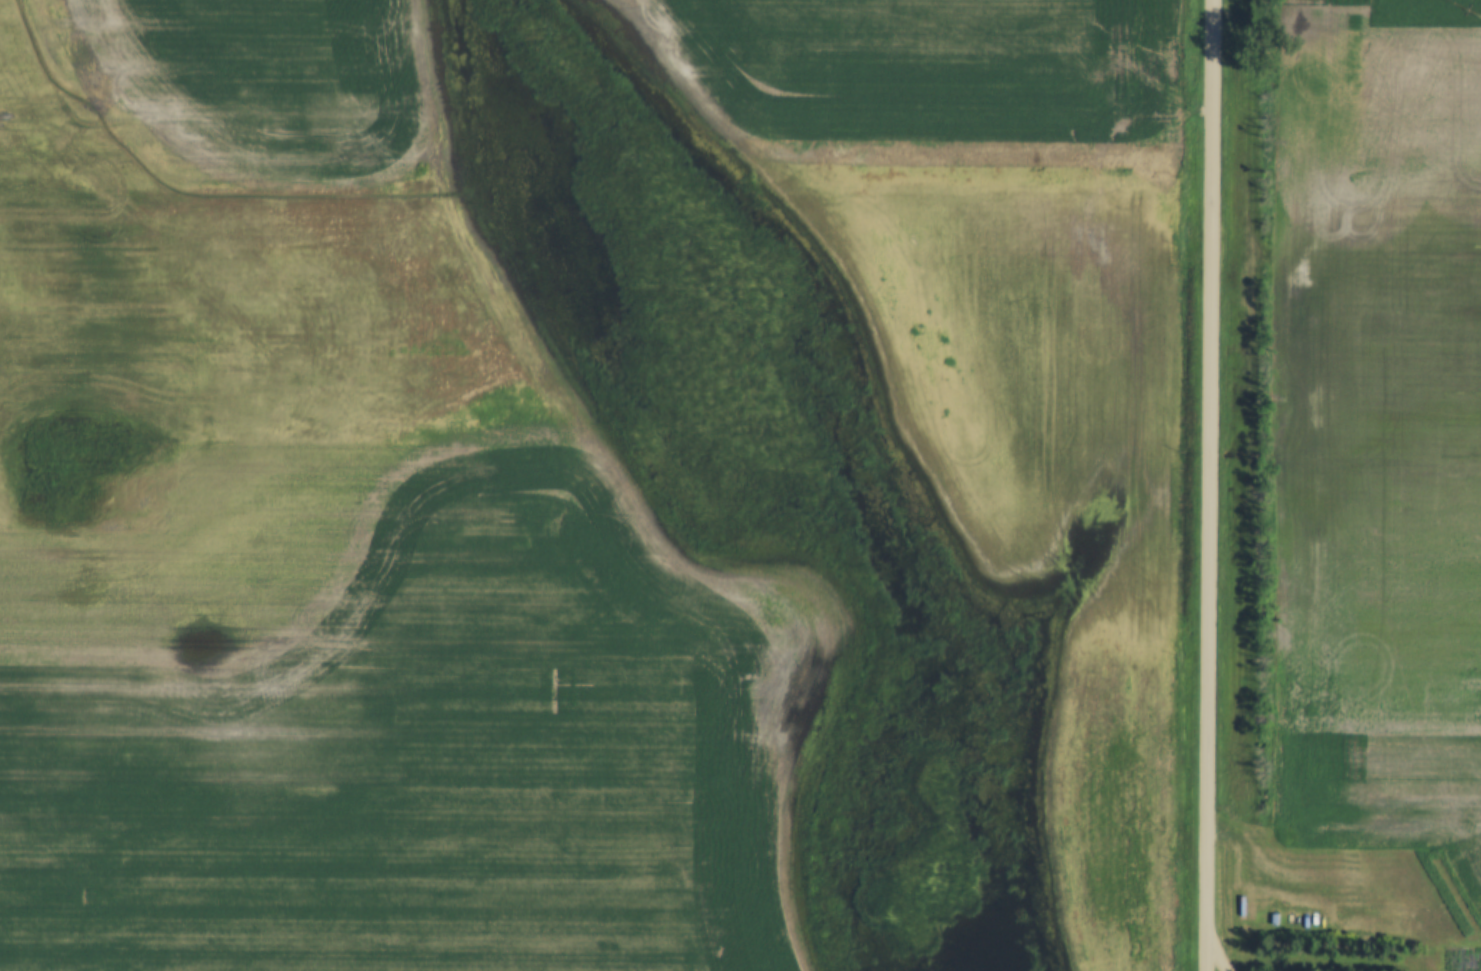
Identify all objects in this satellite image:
road: (1210, 485)

